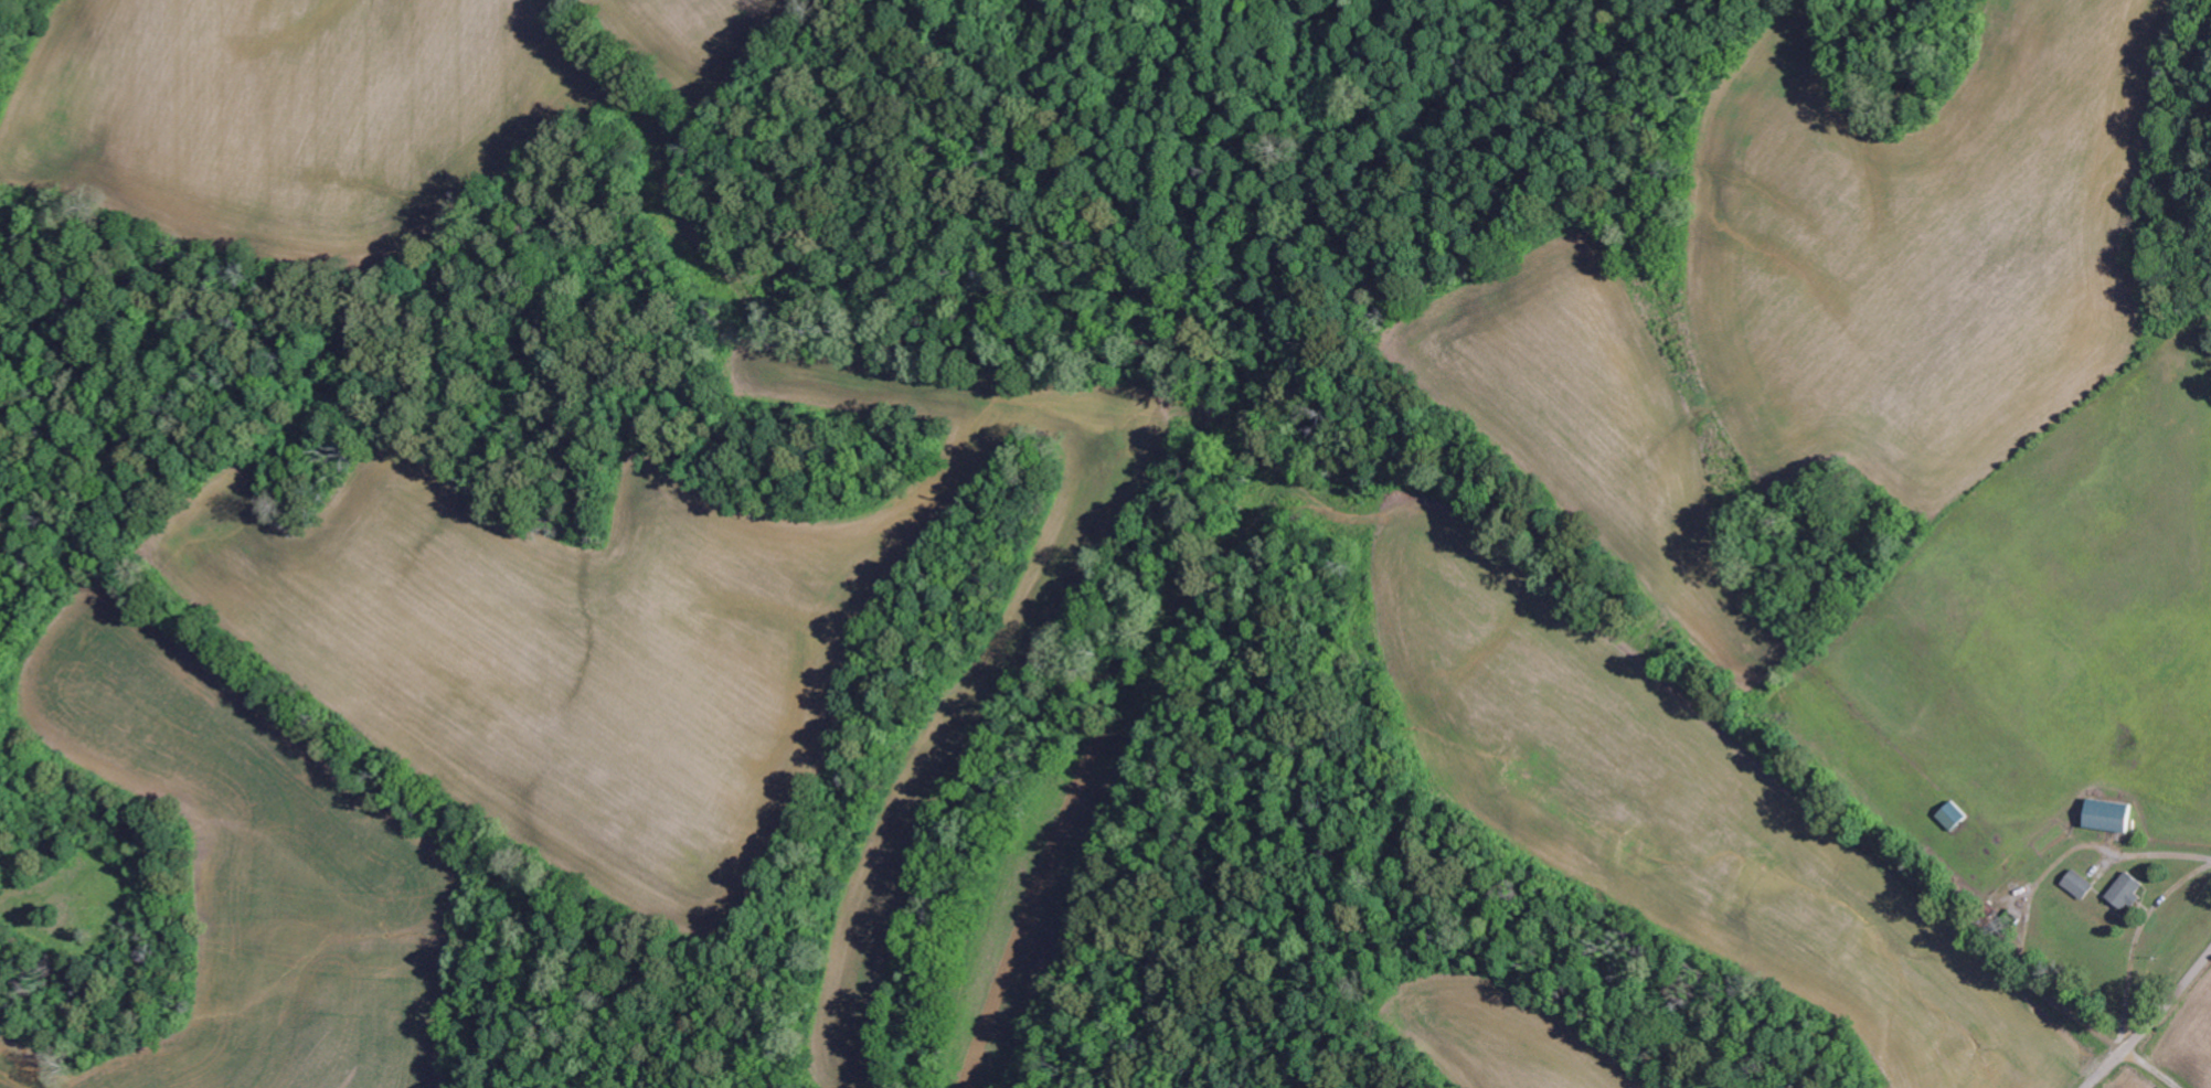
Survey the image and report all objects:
building: (1955, 817)
building: (2112, 817)
building: (2081, 885)
building: (2128, 892)
road: (2150, 1022)

